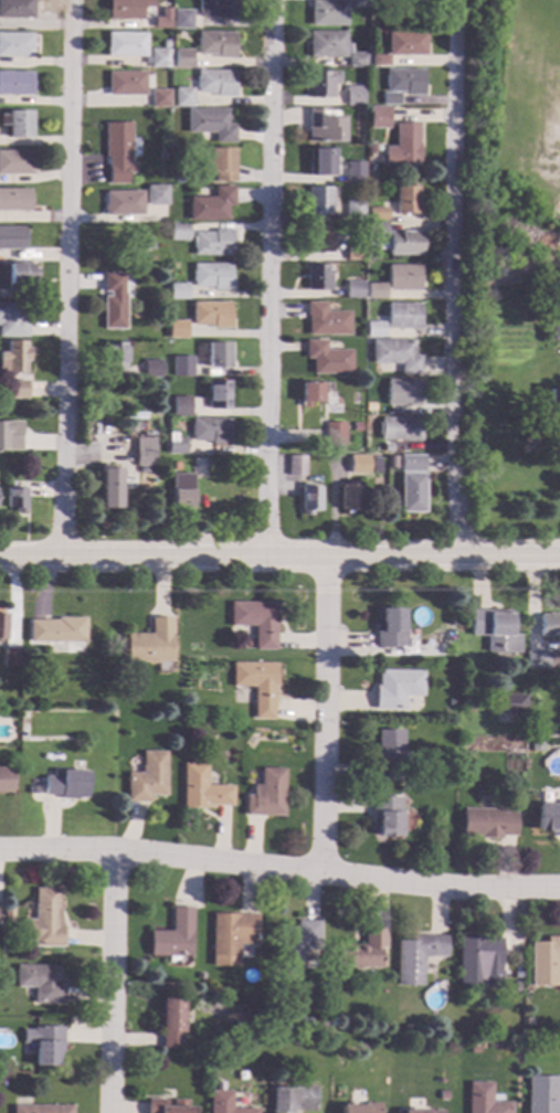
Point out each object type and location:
building: (358, 4)
building: (17, 9)
building: (127, 9)
building: (216, 9)
building: (328, 13)
building: (181, 20)
park: (559, 22)
building: (158, 23)
building: (125, 44)
building: (166, 44)
building: (215, 44)
building: (327, 44)
building: (15, 45)
building: (400, 47)
building: (159, 59)
building: (181, 59)
building: (358, 61)
building: (214, 83)
building: (15, 84)
building: (126, 84)
building: (320, 85)
building: (401, 85)
building: (356, 96)
building: (159, 98)
building: (182, 98)
building: (378, 118)
building: (18, 124)
building: (211, 124)
building: (325, 126)
building: (403, 147)
building: (117, 151)
building: (152, 153)
building: (15, 162)
building: (320, 162)
building: (220, 165)
building: (356, 172)
building: (156, 194)
building: (14, 200)
building: (406, 200)
building: (318, 201)
building: (123, 203)
building: (211, 205)
building: (355, 211)
building: (378, 214)
building: (155, 215)
building: (178, 232)
building: (377, 236)
building: (12, 239)
building: (318, 240)
building: (212, 243)
building: (404, 243)
building: (356, 251)
building: (19, 275)
building: (211, 276)
road: (450, 276)
road: (65, 277)
road: (268, 277)
building: (317, 277)
building: (403, 278)
building: (355, 290)
building: (178, 291)
building: (376, 291)
building: (114, 301)
building: (211, 315)
building: (552, 316)
building: (403, 317)
building: (326, 320)
building: (12, 321)
building: (177, 329)
building: (374, 330)
building: (556, 332)
building: (216, 356)
building: (397, 356)
building: (114, 357)
building: (14, 358)
building: (327, 359)
building: (181, 367)
building: (152, 369)
building: (17, 389)
building: (309, 392)
building: (402, 393)
building: (218, 395)
building: (180, 406)
building: (552, 410)
building: (387, 411)
building: (130, 427)
building: (356, 427)
building: (400, 428)
building: (210, 431)
building: (334, 434)
building: (10, 435)
building: (176, 446)
building: (387, 447)
building: (144, 453)
building: (411, 464)
building: (359, 465)
building: (176, 466)
building: (296, 466)
building: (109, 487)
building: (182, 492)
building: (412, 494)
building: (349, 497)
building: (309, 499)
building: (17, 500)
road: (279, 554)
building: (256, 622)
building: (2, 626)
building: (548, 626)
building: (389, 629)
building: (56, 632)
building: (494, 632)
building: (150, 644)
building: (10, 658)
building: (540, 659)
building: (257, 686)
building: (395, 689)
building: (451, 703)
building: (509, 704)
road: (326, 717)
building: (530, 729)
building: (535, 746)
building: (384, 756)
building: (510, 762)
building: (147, 778)
building: (4, 781)
building: (66, 785)
building: (202, 788)
building: (33, 789)
building: (266, 795)
building: (385, 816)
building: (548, 818)
building: (487, 824)
road: (279, 872)
building: (8, 916)
building: (46, 920)
building: (230, 934)
building: (172, 936)
building: (295, 947)
building: (360, 952)
building: (415, 957)
building: (476, 961)
building: (543, 962)
building: (199, 976)
building: (41, 983)
road: (115, 983)
building: (514, 987)
building: (321, 1022)
building: (527, 1022)
building: (171, 1025)
building: (405, 1029)
building: (319, 1032)
building: (46, 1046)
building: (473, 1050)
building: (440, 1080)
building: (540, 1094)
building: (442, 1095)
building: (292, 1100)
building: (483, 1100)
building: (223, 1103)
building: (156, 1104)
building: (360, 1109)
building: (42, 1110)
building: (420, 1112)

